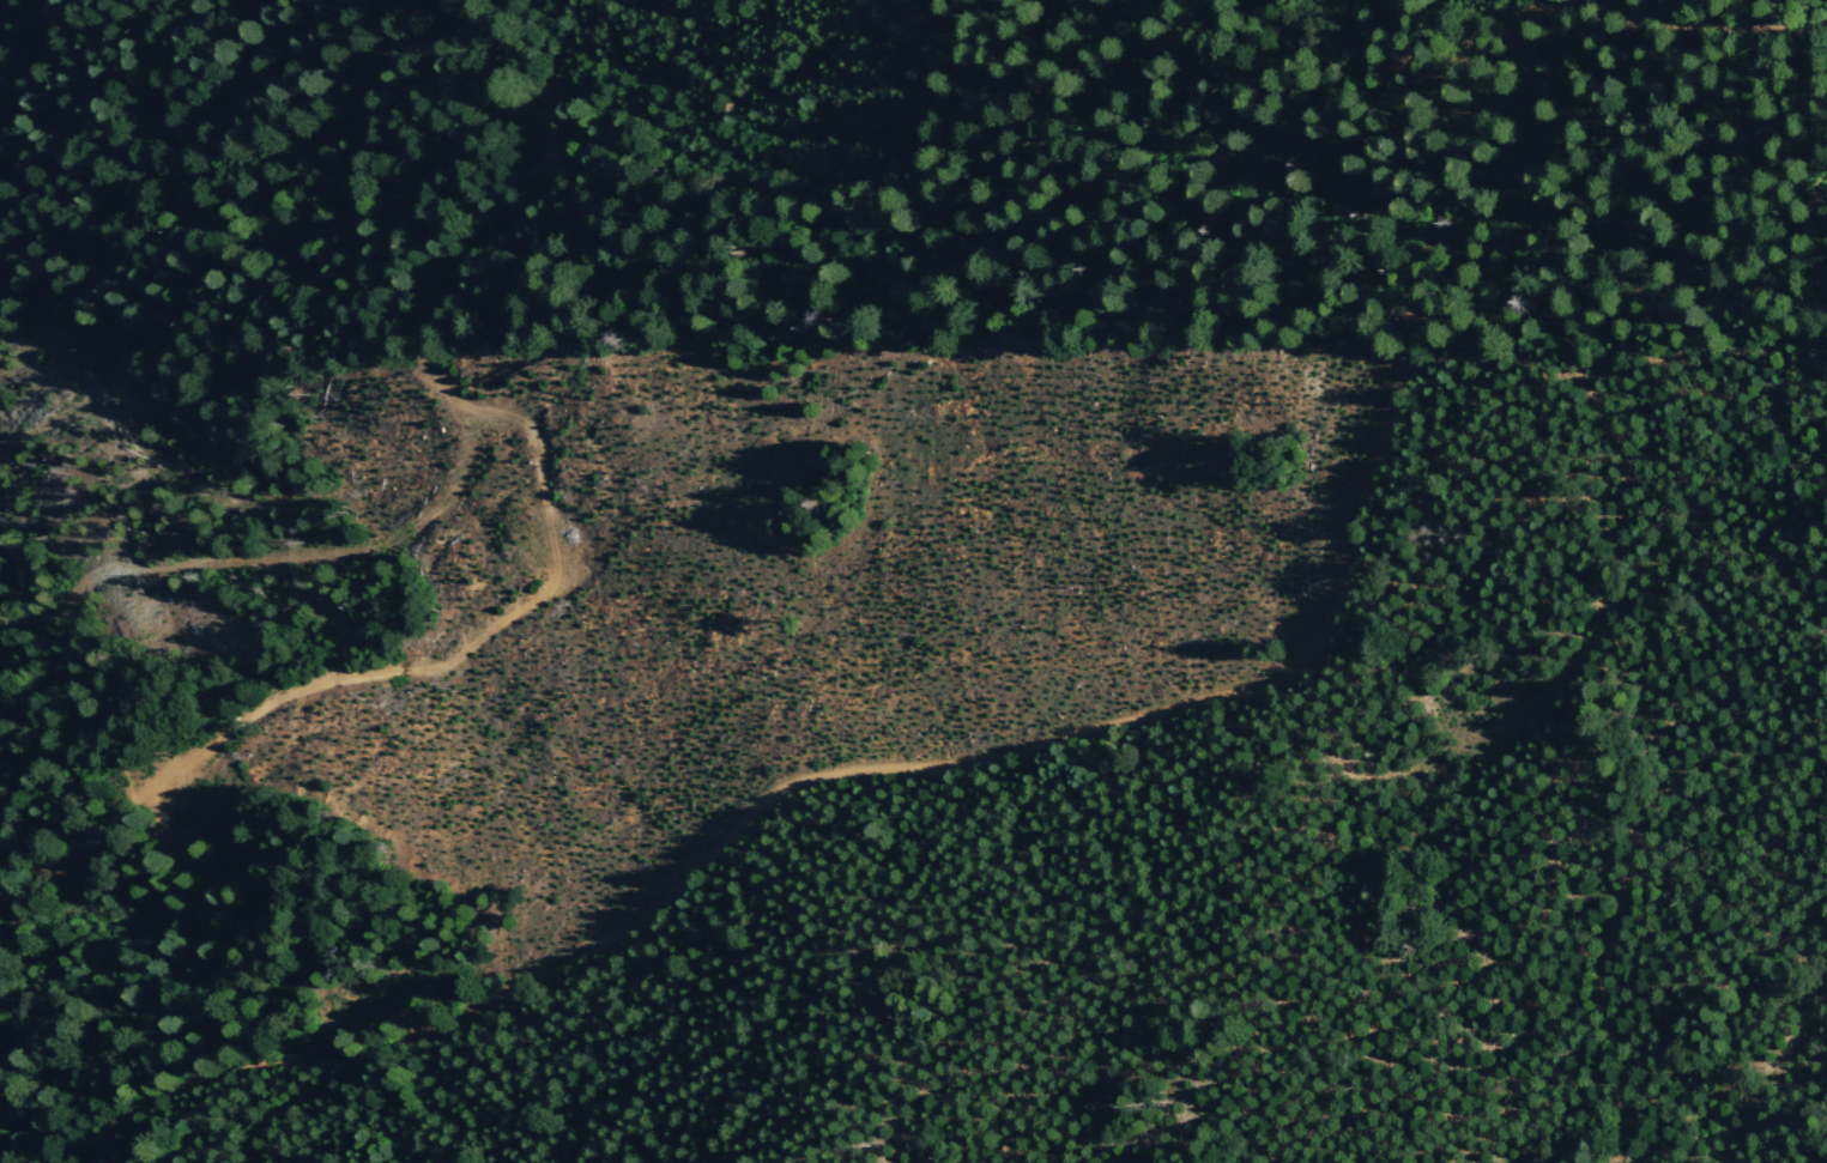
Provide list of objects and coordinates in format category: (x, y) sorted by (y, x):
road: (555, 540)
road: (1611, 577)
road: (1133, 717)

